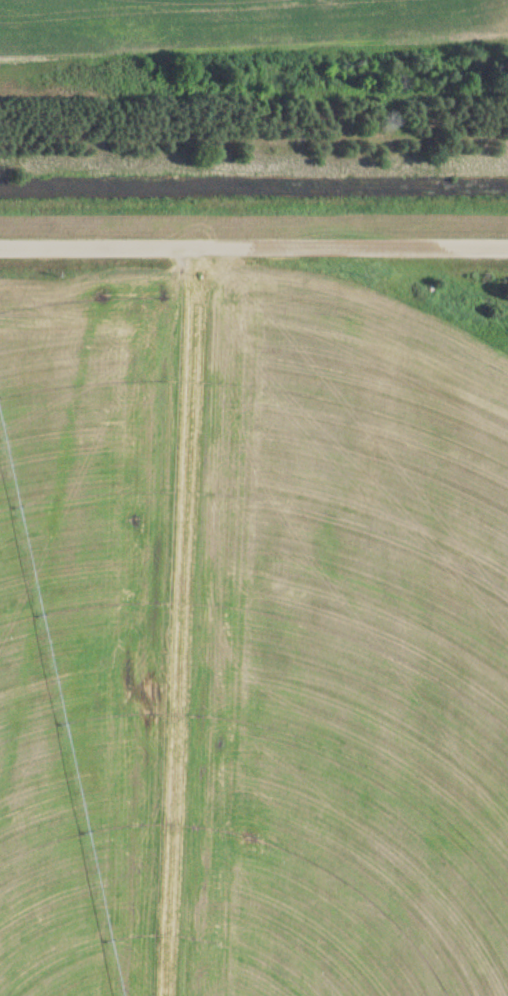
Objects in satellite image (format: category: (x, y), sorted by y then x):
road: (254, 241)
wastewater plant: (254, 498)

